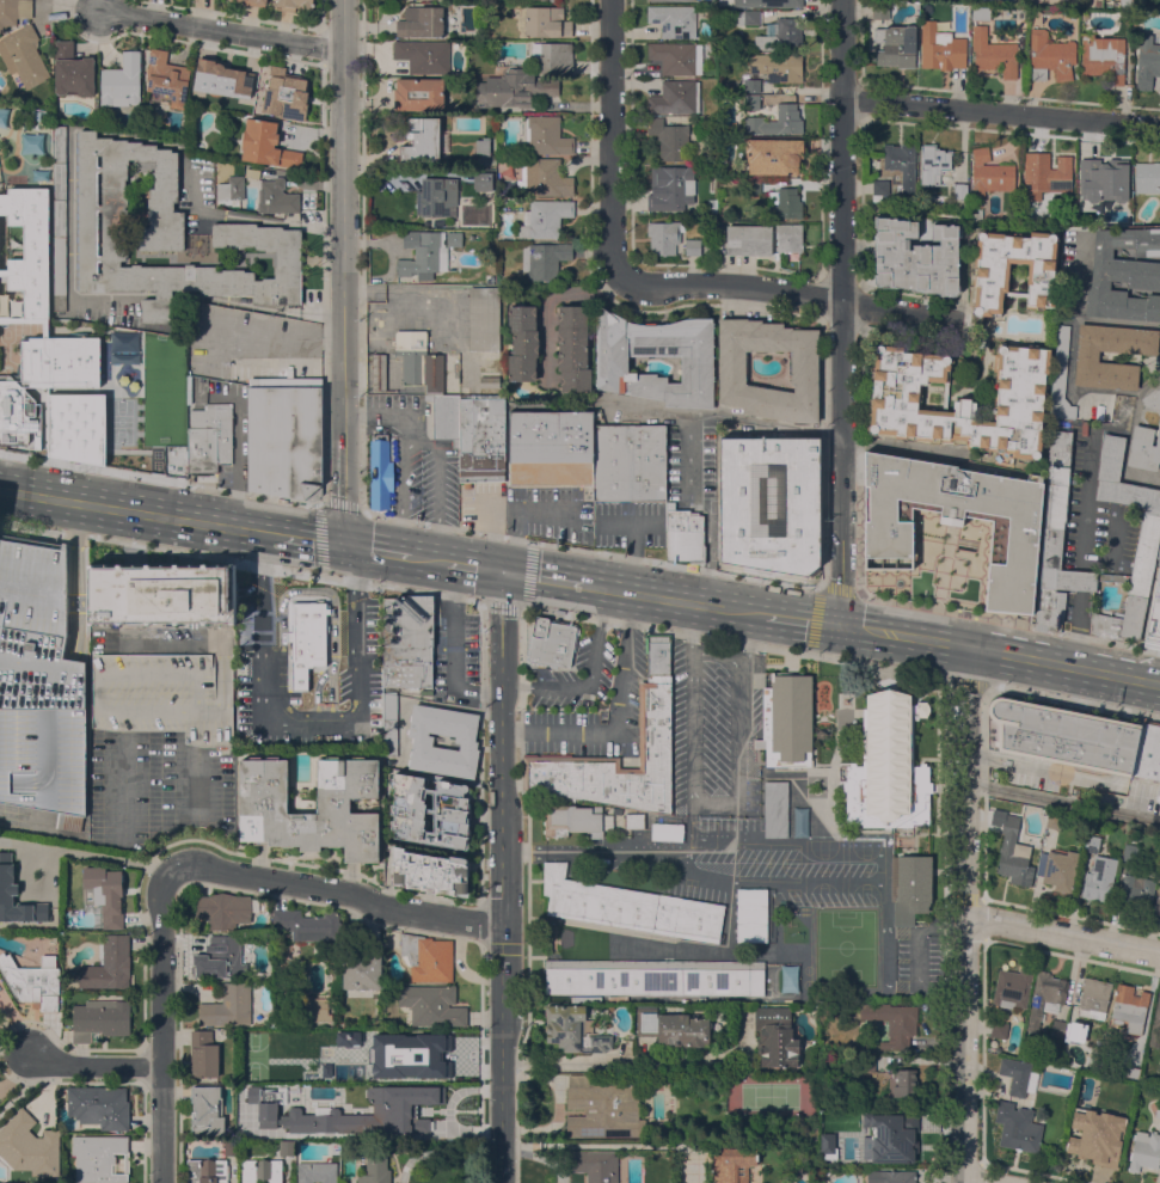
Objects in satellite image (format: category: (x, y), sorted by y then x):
building: (235, 0)
building: (671, 0)
building: (553, 1)
building: (256, 2)
building: (1127, 2)
building: (768, 4)
building: (294, 5)
building: (13, 11)
building: (879, 12)
building: (981, 13)
building: (739, 17)
building: (674, 20)
building: (422, 22)
building: (547, 22)
building: (962, 24)
road: (220, 29)
building: (781, 35)
building: (896, 45)
building: (940, 48)
building: (994, 53)
building: (24, 55)
building: (423, 55)
building: (553, 56)
building: (1050, 56)
building: (676, 57)
building: (1103, 57)
building: (1147, 65)
building: (778, 67)
building: (72, 69)
building: (167, 78)
building: (221, 78)
building: (122, 81)
building: (751, 85)
building: (514, 88)
building: (284, 93)
building: (418, 93)
building: (675, 97)
building: (751, 102)
road: (1000, 110)
building: (55, 116)
building: (775, 121)
road: (116, 133)
building: (498, 135)
building: (547, 135)
road: (610, 137)
building: (670, 137)
building: (424, 140)
building: (266, 145)
building: (483, 146)
building: (773, 155)
building: (901, 160)
building: (933, 164)
building: (486, 173)
building: (989, 173)
building: (1049, 174)
building: (1147, 177)
building: (544, 178)
building: (1105, 182)
building: (486, 184)
building: (753, 185)
building: (880, 186)
building: (673, 188)
building: (231, 189)
building: (960, 192)
building: (276, 197)
building: (436, 198)
building: (877, 198)
building: (786, 202)
building: (711, 206)
building: (60, 217)
building: (545, 217)
building: (166, 234)
building: (663, 237)
building: (788, 237)
building: (454, 238)
building: (749, 239)
building: (693, 246)
building: (423, 255)
building: (916, 257)
building: (545, 259)
building: (465, 270)
road: (343, 271)
building: (990, 272)
building: (1124, 275)
road: (784, 292)
road: (548, 304)
road: (841, 312)
building: (484, 319)
building: (32, 323)
road: (276, 335)
building: (981, 337)
building: (523, 343)
building: (573, 348)
building: (1087, 357)
building: (417, 361)
building: (696, 363)
road: (323, 364)
building: (804, 367)
building: (378, 370)
building: (1061, 375)
building: (490, 381)
building: (945, 391)
building: (1153, 398)
road: (362, 399)
building: (962, 399)
road: (378, 417)
building: (471, 434)
building: (284, 435)
building: (207, 437)
road: (416, 439)
road: (823, 442)
road: (689, 443)
building: (548, 446)
building: (1144, 447)
road: (859, 449)
building: (627, 461)
road: (234, 464)
building: (379, 471)
road: (159, 478)
building: (768, 502)
road: (1085, 503)
road: (139, 510)
road: (514, 515)
road: (319, 517)
building: (958, 517)
building: (682, 532)
road: (308, 538)
building: (1056, 539)
traffic signals: (339, 544)
road: (636, 544)
building: (1146, 548)
road: (374, 550)
road: (590, 551)
road: (426, 558)
road: (240, 560)
road: (474, 566)
traffic signals: (505, 572)
building: (1112, 576)
road: (544, 577)
road: (1080, 580)
building: (162, 594)
road: (523, 595)
road: (674, 600)
road: (817, 600)
road: (802, 618)
building: (1154, 619)
road: (1008, 621)
traffic signals: (837, 624)
road: (1076, 627)
building: (308, 631)
building: (407, 640)
road: (734, 640)
building: (551, 642)
road: (452, 648)
road: (999, 651)
road: (717, 652)
building: (658, 654)
road: (589, 679)
road: (966, 681)
building: (39, 685)
building: (160, 697)
road: (1074, 701)
road: (618, 715)
road: (305, 719)
building: (787, 719)
building: (389, 724)
road: (982, 735)
building: (1062, 735)
building: (466, 741)
building: (1148, 750)
building: (615, 764)
building: (888, 766)
building: (1159, 792)
road: (713, 801)
road: (1062, 802)
building: (346, 808)
building: (777, 809)
building: (430, 811)
building: (576, 820)
building: (1054, 820)
building: (637, 821)
building: (667, 832)
road: (527, 833)
road: (945, 838)
building: (1092, 844)
road: (615, 851)
building: (1013, 852)
building: (1130, 852)
road: (97, 856)
building: (1060, 870)
building: (29, 871)
building: (429, 871)
road: (502, 877)
building: (1100, 878)
building: (910, 887)
road: (337, 890)
building: (105, 891)
building: (1136, 891)
building: (6, 893)
road: (452, 899)
building: (1158, 905)
building: (630, 907)
building: (225, 908)
building: (56, 914)
building: (751, 914)
road: (964, 914)
building: (307, 925)
road: (1062, 930)
building: (428, 957)
building: (222, 958)
building: (109, 963)
building: (363, 969)
building: (655, 977)
building: (33, 981)
building: (1013, 987)
building: (1044, 997)
building: (1093, 998)
building: (432, 1005)
building: (228, 1006)
building: (317, 1009)
building: (1130, 1009)
building: (100, 1018)
building: (894, 1022)
building: (339, 1023)
road: (160, 1025)
building: (1155, 1025)
building: (673, 1028)
building: (999, 1028)
building: (1058, 1028)
building: (573, 1029)
building: (1073, 1031)
building: (775, 1036)
building: (417, 1047)
building: (990, 1047)
building: (203, 1054)
road: (516, 1059)
road: (639, 1060)
building: (861, 1062)
road: (96, 1065)
building: (346, 1071)
building: (1131, 1071)
building: (1019, 1075)
building: (902, 1081)
building: (99, 1105)
building: (262, 1108)
building: (603, 1108)
building: (399, 1109)
building: (207, 1110)
building: (1158, 1112)
building: (305, 1127)
building: (1018, 1127)
building: (1097, 1135)
building: (895, 1138)
building: (29, 1145)
building: (825, 1145)
building: (232, 1147)
building: (287, 1147)
building: (1144, 1151)
road: (540, 1154)
building: (99, 1158)
building: (734, 1164)
building: (595, 1165)
building: (375, 1167)
building: (262, 1170)
building: (207, 1171)
building: (317, 1172)
building: (891, 1176)

